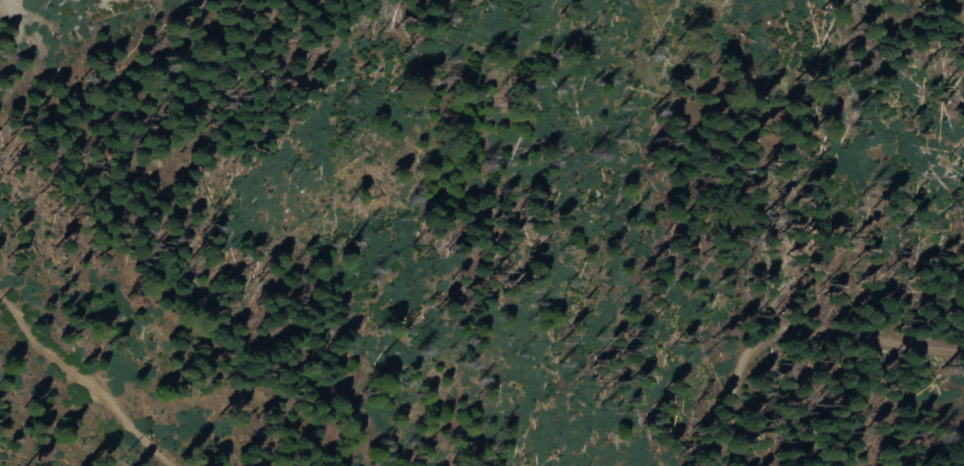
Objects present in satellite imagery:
road: (826, 360)

